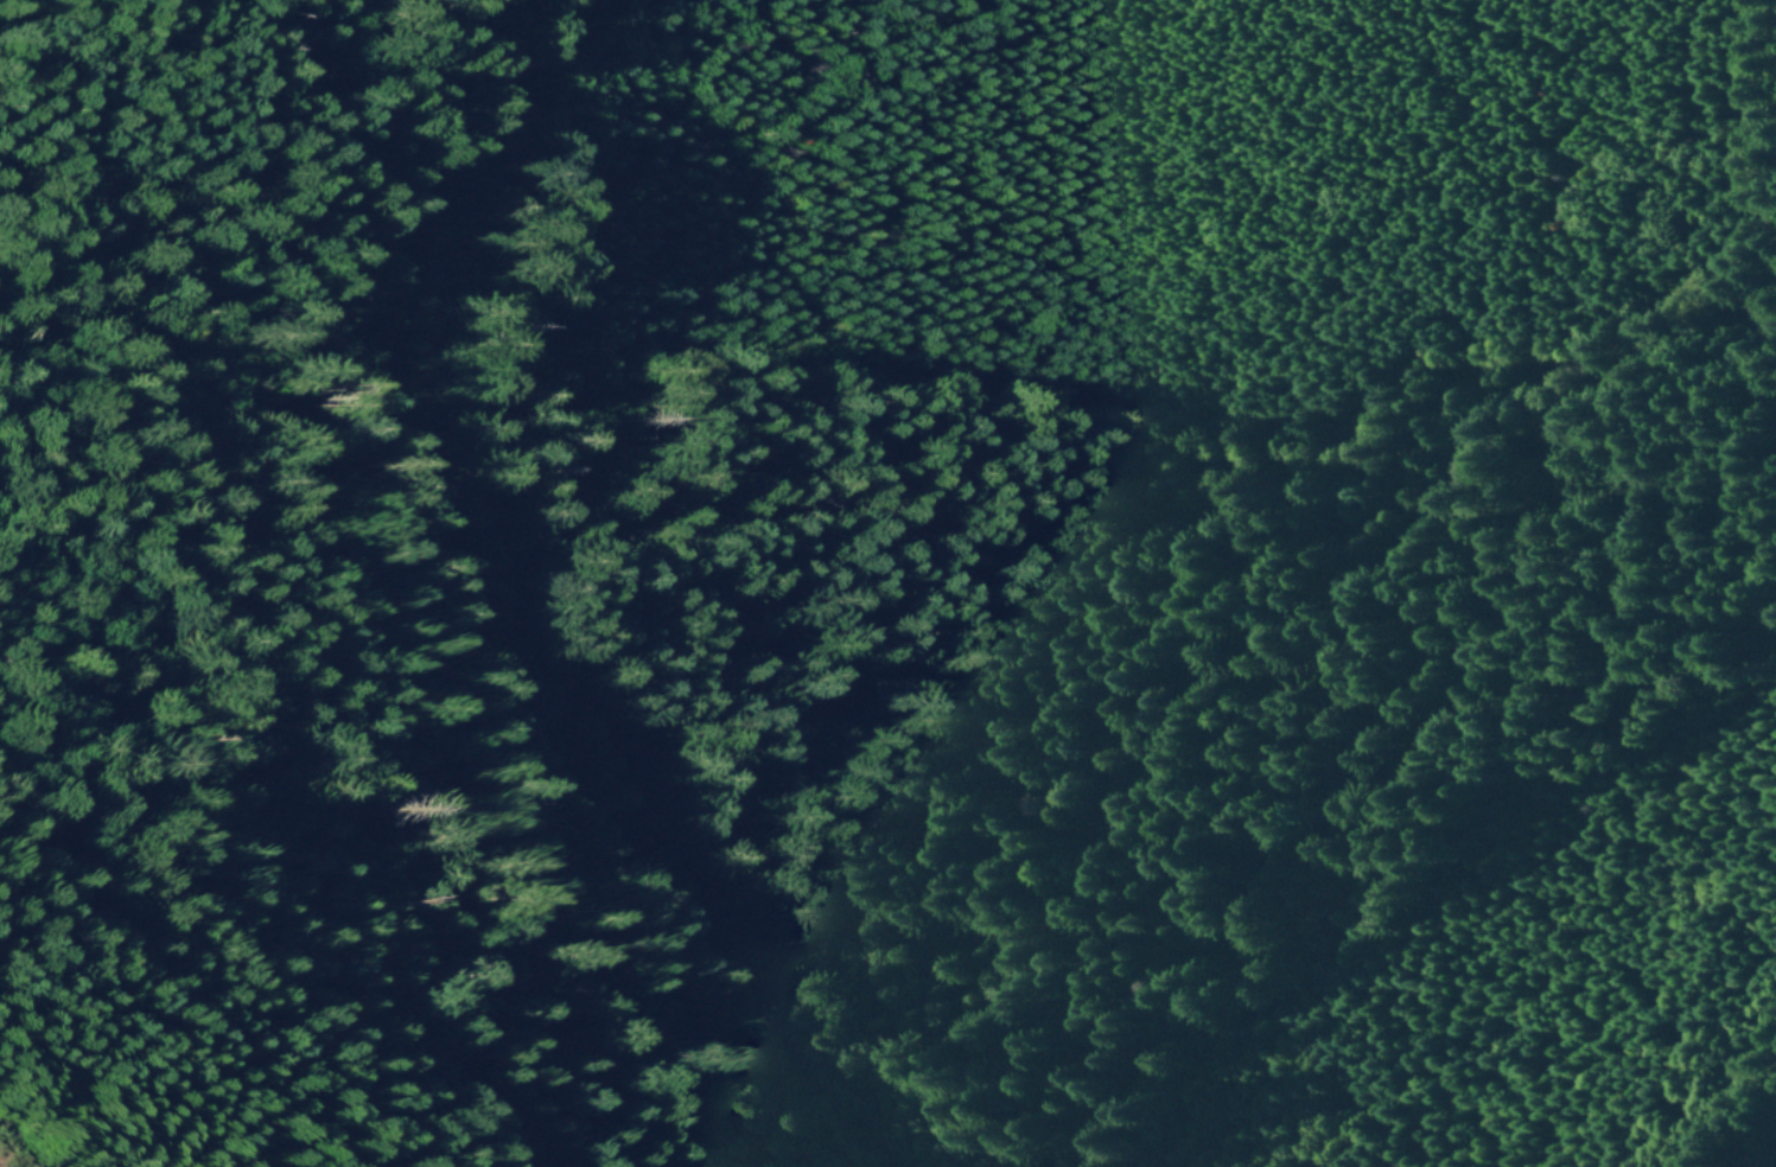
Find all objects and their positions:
road: (771, 102)
road: (471, 612)
road: (11, 1046)
road: (192, 1158)

